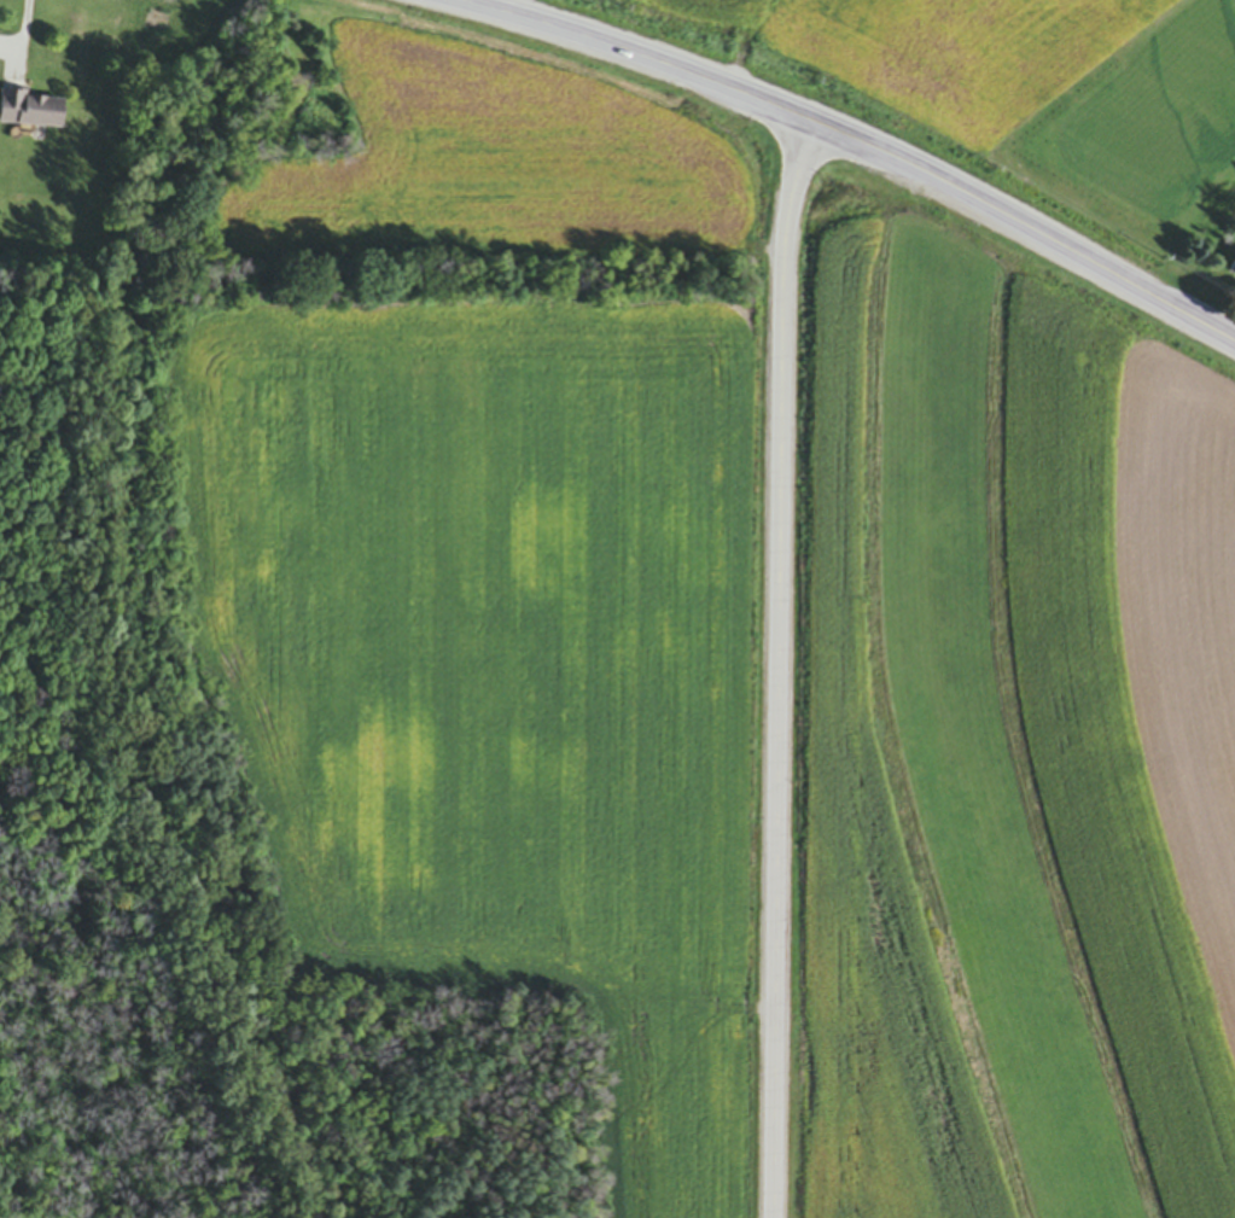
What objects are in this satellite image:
road: (17, 37)
road: (627, 49)
building: (31, 112)
road: (1013, 220)
building: (1233, 270)
road: (779, 664)

